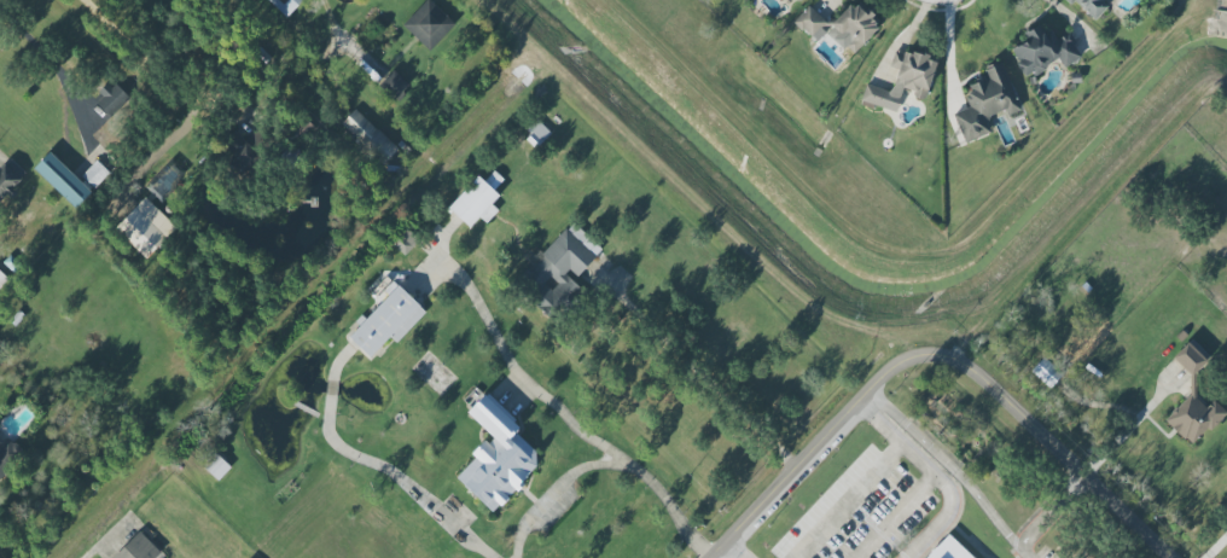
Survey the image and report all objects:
road: (944, 0)
building: (793, 1)
building: (285, 5)
building: (1091, 6)
road: (324, 8)
building: (809, 22)
building: (429, 24)
building: (855, 25)
road: (37, 46)
building: (1042, 51)
road: (949, 53)
road: (356, 57)
building: (902, 81)
building: (394, 85)
road: (185, 98)
building: (985, 103)
building: (367, 138)
building: (238, 150)
building: (95, 174)
building: (10, 178)
building: (167, 179)
building: (62, 180)
building: (477, 200)
building: (145, 227)
building: (403, 242)
building: (562, 258)
building: (2, 279)
building: (382, 290)
building: (386, 321)
road: (333, 367)
building: (1046, 372)
road: (518, 374)
road: (702, 378)
road: (330, 386)
road: (1132, 425)
road: (1047, 440)
road: (809, 453)
building: (6, 455)
building: (496, 457)
road: (915, 460)
road: (607, 465)
building: (217, 469)
road: (952, 469)
road: (927, 477)
road: (397, 478)
road: (868, 479)
road: (1052, 512)
road: (98, 548)
building: (138, 548)
road: (737, 550)

